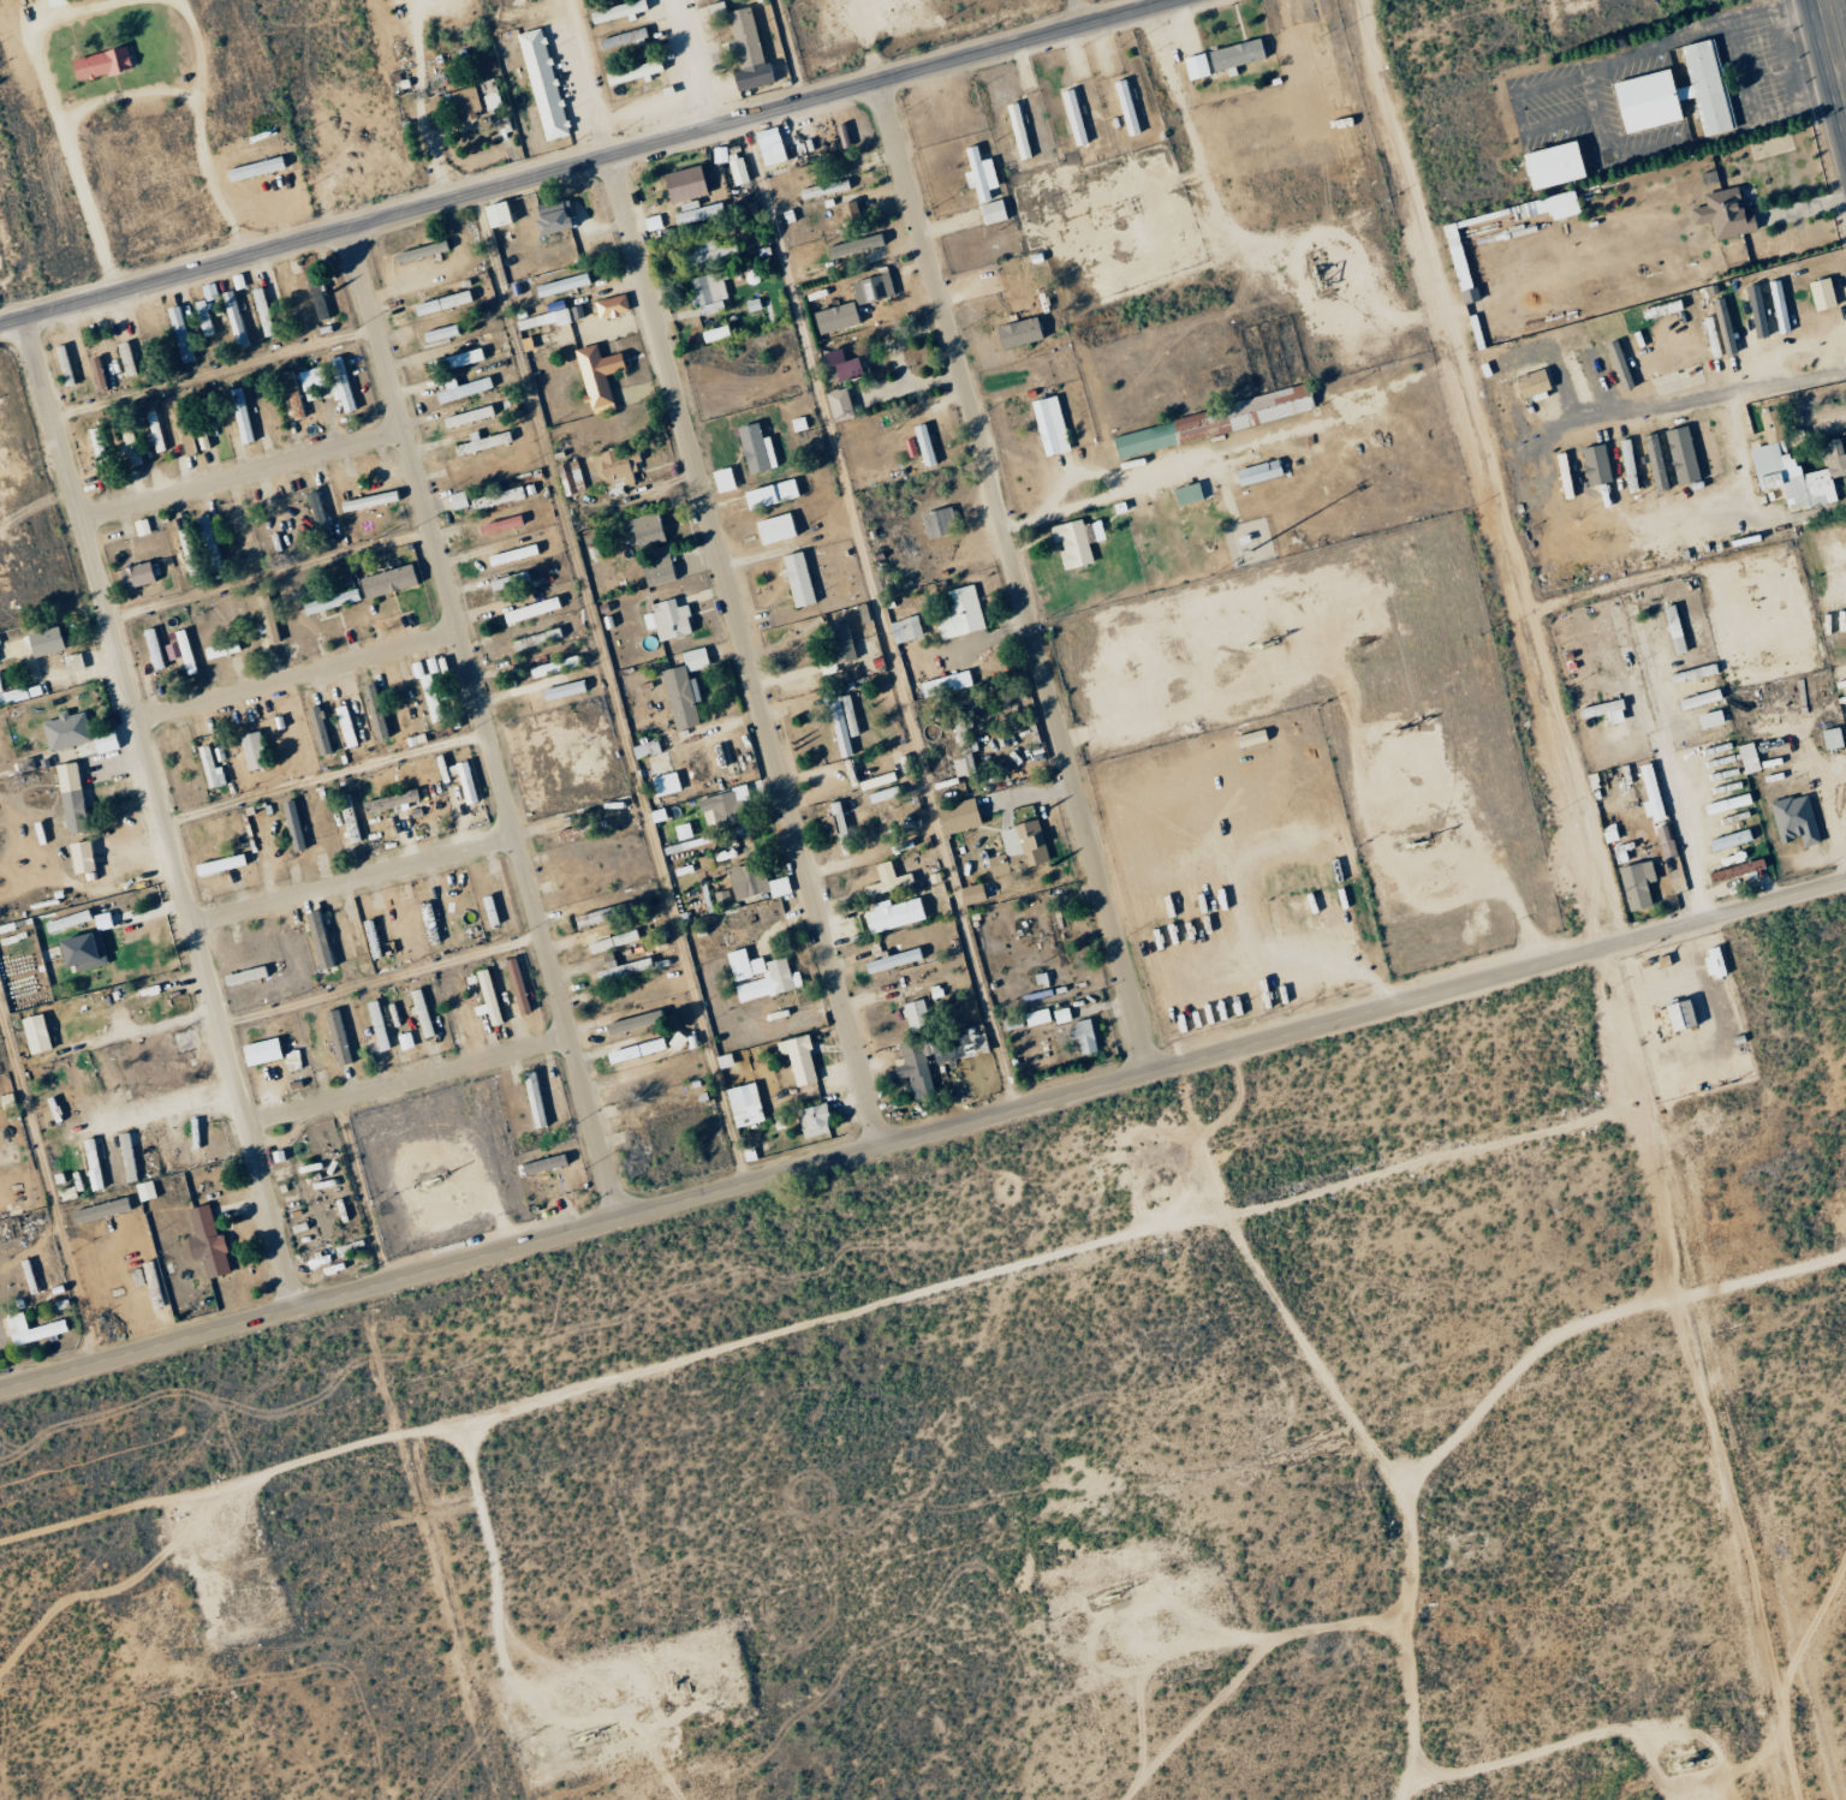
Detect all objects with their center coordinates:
building: (52, 2)
building: (615, 11)
road: (1071, 13)
building: (739, 35)
building: (620, 38)
road: (1834, 44)
building: (1234, 54)
road: (697, 61)
building: (99, 62)
building: (1193, 66)
building: (631, 72)
road: (585, 77)
building: (750, 77)
building: (541, 84)
road: (123, 94)
building: (488, 94)
building: (1674, 94)
building: (460, 103)
road: (56, 115)
building: (1071, 117)
road: (197, 127)
building: (1016, 131)
road: (585, 159)
building: (1548, 166)
building: (254, 168)
building: (736, 171)
building: (977, 174)
building: (681, 184)
building: (822, 189)
building: (1554, 205)
road: (266, 209)
building: (847, 209)
building: (990, 211)
building: (695, 213)
building: (1722, 214)
building: (493, 215)
building: (549, 217)
building: (853, 246)
building: (418, 251)
building: (703, 252)
building: (1455, 263)
building: (560, 285)
building: (871, 287)
building: (207, 291)
building: (705, 293)
building: (1818, 294)
building: (440, 303)
building: (609, 306)
building: (1776, 306)
building: (1755, 311)
building: (232, 318)
building: (833, 318)
building: (541, 320)
building: (178, 333)
building: (439, 333)
building: (1016, 333)
building: (711, 334)
building: (458, 358)
building: (61, 365)
building: (1616, 365)
building: (835, 366)
building: (94, 374)
building: (595, 374)
building: (309, 379)
building: (339, 381)
building: (1529, 386)
building: (459, 389)
building: (1497, 404)
building: (836, 405)
building: (238, 415)
building: (465, 417)
building: (1209, 422)
building: (1048, 425)
building: (151, 430)
building: (127, 443)
building: (481, 443)
building: (922, 446)
building: (1708, 447)
building: (754, 448)
building: (1680, 455)
building: (1654, 463)
building: (1594, 465)
building: (615, 466)
building: (1792, 467)
road: (1156, 471)
road: (240, 472)
road: (1076, 472)
building: (1256, 472)
building: (568, 477)
building: (721, 479)
building: (769, 493)
building: (1185, 494)
building: (368, 497)
building: (494, 499)
building: (455, 500)
building: (316, 515)
building: (499, 525)
building: (139, 526)
building: (774, 529)
building: (642, 530)
building: (1091, 531)
building: (1068, 543)
building: (510, 554)
building: (656, 568)
building: (133, 574)
road: (1014, 577)
building: (796, 579)
building: (385, 580)
building: (507, 580)
building: (328, 601)
building: (529, 609)
building: (958, 613)
building: (666, 620)
building: (903, 628)
building: (1671, 630)
building: (536, 638)
building: (42, 642)
building: (838, 643)
building: (151, 648)
building: (219, 649)
building: (171, 651)
building: (183, 651)
road: (744, 651)
building: (692, 660)
building: (69, 661)
building: (552, 667)
road: (297, 675)
building: (943, 684)
road: (608, 689)
building: (561, 690)
building: (13, 695)
building: (679, 697)
building: (428, 698)
building: (1696, 699)
building: (373, 710)
building: (1602, 711)
building: (1708, 720)
building: (840, 721)
road: (484, 723)
building: (341, 727)
building: (316, 729)
building: (64, 731)
building: (1249, 738)
building: (1828, 739)
building: (102, 741)
building: (644, 749)
building: (250, 750)
building: (963, 750)
building: (1746, 758)
building: (207, 765)
building: (464, 783)
building: (662, 783)
building: (69, 798)
building: (387, 800)
building: (728, 804)
building: (1725, 804)
road: (160, 812)
building: (955, 816)
building: (347, 818)
building: (1792, 821)
building: (291, 824)
building: (824, 826)
building: (836, 828)
building: (1728, 840)
building: (1663, 842)
road: (1686, 844)
building: (1017, 848)
building: (78, 857)
building: (216, 865)
building: (1734, 870)
road: (352, 877)
building: (883, 880)
building: (752, 882)
building: (1634, 886)
building: (970, 894)
building: (488, 910)
building: (891, 913)
building: (589, 917)
building: (65, 920)
building: (100, 920)
building: (611, 941)
building: (79, 950)
building: (891, 960)
building: (1711, 961)
building: (623, 968)
building: (243, 976)
building: (780, 976)
road: (380, 981)
building: (514, 985)
building: (484, 999)
building: (418, 1013)
building: (912, 1014)
building: (1059, 1015)
building: (1675, 1015)
building: (1035, 1017)
building: (627, 1023)
building: (375, 1025)
building: (32, 1033)
building: (335, 1037)
building: (1082, 1037)
building: (404, 1042)
building: (632, 1050)
building: (258, 1051)
building: (171, 1053)
building: (796, 1059)
building: (913, 1069)
road: (407, 1083)
building: (531, 1098)
building: (5, 1101)
building: (743, 1104)
building: (811, 1120)
road: (923, 1137)
building: (192, 1140)
building: (159, 1148)
building: (125, 1157)
building: (89, 1164)
building: (541, 1164)
building: (143, 1191)
building: (97, 1210)
building: (204, 1242)
building: (28, 1330)

